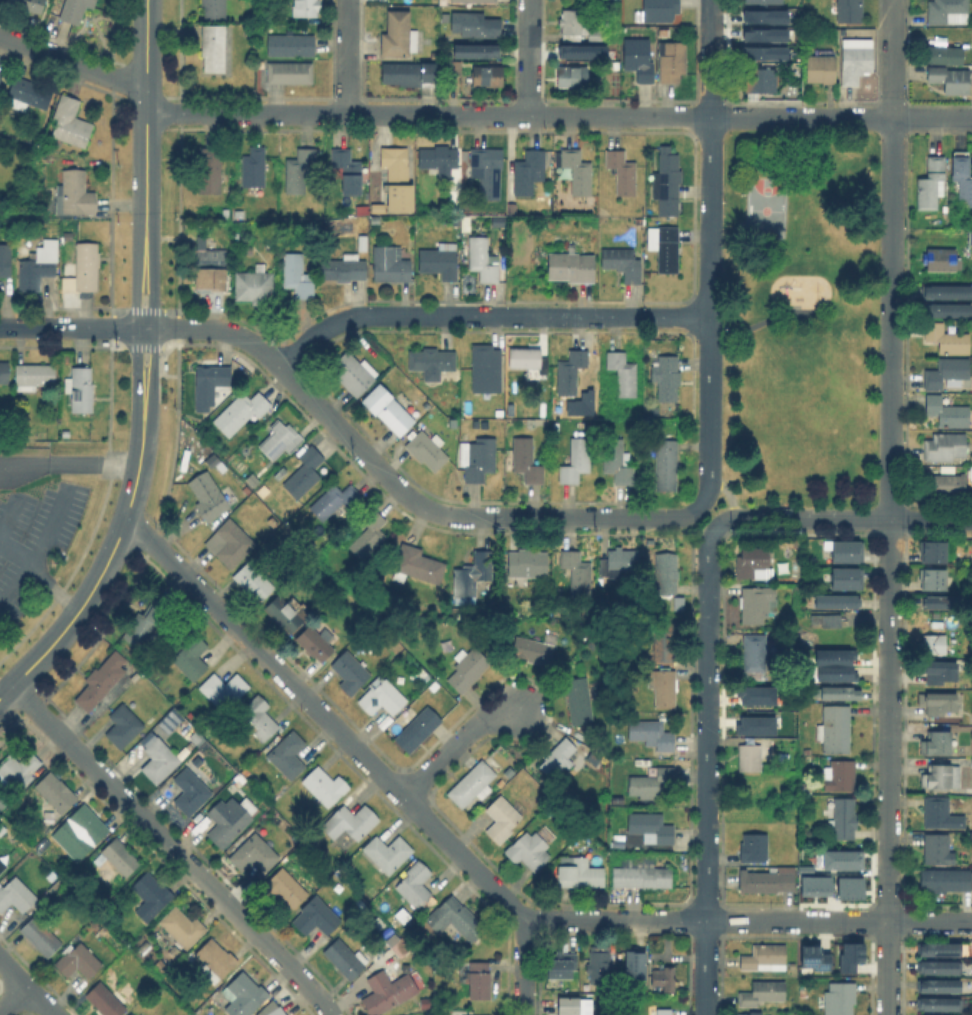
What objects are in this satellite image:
building: (473, 0)
building: (615, 0)
building: (764, 2)
building: (27, 5)
building: (214, 8)
building: (306, 8)
building: (661, 9)
building: (74, 10)
building: (851, 11)
building: (948, 12)
building: (763, 15)
building: (443, 16)
building: (569, 21)
building: (472, 24)
building: (593, 33)
building: (763, 33)
building: (398, 35)
building: (291, 45)
building: (214, 47)
building: (473, 50)
building: (581, 50)
building: (763, 51)
building: (435, 54)
building: (941, 54)
road: (346, 57)
road: (529, 58)
road: (893, 59)
building: (640, 60)
building: (672, 61)
road: (72, 63)
building: (261, 63)
building: (856, 64)
building: (452, 68)
building: (821, 69)
building: (408, 73)
building: (1, 74)
building: (290, 74)
building: (487, 77)
building: (572, 77)
building: (757, 79)
building: (952, 80)
building: (2, 87)
building: (29, 94)
building: (3, 105)
road: (428, 115)
road: (802, 118)
road: (932, 119)
building: (70, 124)
road: (146, 141)
building: (440, 160)
building: (396, 164)
building: (254, 168)
building: (489, 168)
building: (300, 169)
building: (348, 169)
building: (209, 170)
building: (528, 170)
building: (621, 170)
building: (578, 171)
building: (667, 181)
building: (962, 182)
building: (931, 184)
building: (77, 193)
building: (403, 198)
road: (710, 207)
park: (769, 210)
building: (375, 220)
building: (335, 224)
building: (5, 233)
building: (970, 235)
building: (653, 239)
building: (668, 248)
building: (483, 259)
building: (942, 259)
building: (5, 261)
building: (390, 263)
building: (438, 263)
building: (623, 263)
building: (87, 265)
building: (37, 267)
building: (210, 267)
building: (344, 267)
building: (572, 267)
building: (298, 276)
building: (255, 286)
building: (946, 292)
road: (137, 304)
road: (155, 304)
road: (146, 310)
building: (946, 311)
road: (484, 315)
park: (800, 317)
road: (891, 319)
road: (754, 324)
road: (68, 328)
road: (146, 329)
building: (948, 340)
road: (146, 346)
road: (137, 355)
road: (155, 356)
building: (528, 360)
building: (432, 361)
building: (484, 363)
building: (4, 372)
building: (571, 372)
building: (947, 373)
building: (354, 374)
building: (624, 374)
building: (34, 377)
building: (667, 378)
building: (212, 383)
building: (584, 389)
building: (81, 390)
road: (304, 395)
building: (244, 407)
building: (387, 409)
building: (948, 413)
building: (282, 441)
road: (710, 445)
building: (945, 447)
building: (427, 450)
road: (68, 458)
building: (618, 458)
building: (478, 459)
building: (526, 460)
building: (577, 460)
building: (220, 464)
building: (667, 467)
building: (304, 474)
building: (949, 485)
road: (728, 493)
road: (705, 494)
building: (211, 497)
building: (335, 501)
road: (9, 511)
road: (536, 517)
road: (669, 517)
road: (812, 518)
road: (931, 519)
road: (718, 525)
building: (369, 533)
parking lot: (33, 542)
building: (229, 544)
road: (39, 548)
building: (848, 552)
road: (109, 553)
building: (933, 554)
building: (620, 561)
building: (527, 564)
building: (754, 566)
building: (417, 567)
building: (666, 572)
building: (474, 574)
building: (578, 574)
road: (39, 578)
building: (847, 579)
building: (254, 580)
building: (933, 581)
building: (838, 603)
building: (942, 604)
building: (757, 605)
building: (286, 611)
building: (823, 619)
building: (148, 623)
building: (664, 641)
building: (315, 643)
building: (932, 643)
building: (533, 649)
building: (562, 649)
building: (755, 653)
building: (192, 656)
building: (834, 665)
building: (468, 669)
building: (350, 672)
building: (942, 673)
building: (102, 679)
building: (663, 689)
building: (223, 691)
building: (754, 694)
building: (841, 694)
building: (382, 698)
building: (581, 701)
building: (940, 704)
building: (259, 719)
building: (754, 724)
building: (125, 726)
building: (416, 729)
building: (835, 730)
building: (652, 736)
building: (940, 743)
road: (445, 745)
road: (357, 753)
building: (288, 755)
building: (162, 758)
building: (558, 758)
building: (750, 759)
road: (889, 767)
building: (20, 770)
road: (706, 776)
building: (841, 777)
building: (942, 778)
building: (653, 783)
building: (473, 785)
building: (192, 786)
building: (324, 786)
building: (58, 790)
building: (265, 806)
building: (938, 814)
building: (502, 818)
building: (844, 819)
building: (230, 820)
building: (90, 822)
building: (355, 822)
building: (651, 829)
building: (75, 837)
building: (755, 847)
road: (172, 848)
building: (533, 848)
building: (939, 850)
building: (387, 853)
building: (254, 854)
building: (123, 855)
building: (839, 859)
building: (3, 864)
building: (804, 869)
building: (54, 874)
building: (580, 874)
building: (642, 877)
building: (765, 879)
building: (945, 882)
building: (57, 885)
building: (414, 885)
building: (814, 885)
building: (848, 887)
building: (285, 888)
building: (17, 894)
building: (153, 894)
building: (316, 915)
building: (456, 918)
road: (747, 920)
building: (185, 925)
building: (43, 935)
building: (939, 949)
building: (848, 955)
building: (763, 956)
building: (812, 957)
building: (80, 959)
building: (218, 959)
building: (344, 960)
building: (599, 962)
building: (637, 962)
building: (563, 964)
building: (936, 965)
building: (663, 976)
building: (483, 979)
building: (938, 983)
road: (26, 987)
building: (391, 989)
road: (10, 992)
building: (762, 992)
building: (245, 996)
building: (109, 999)
building: (474, 999)
building: (840, 999)
building: (939, 1003)
building: (568, 1006)
building: (662, 1011)
building: (277, 1012)
building: (749, 1012)
building: (130, 1013)
building: (134, 1014)
building: (143, 1014)
building: (482, 1014)
building: (927, 1014)

